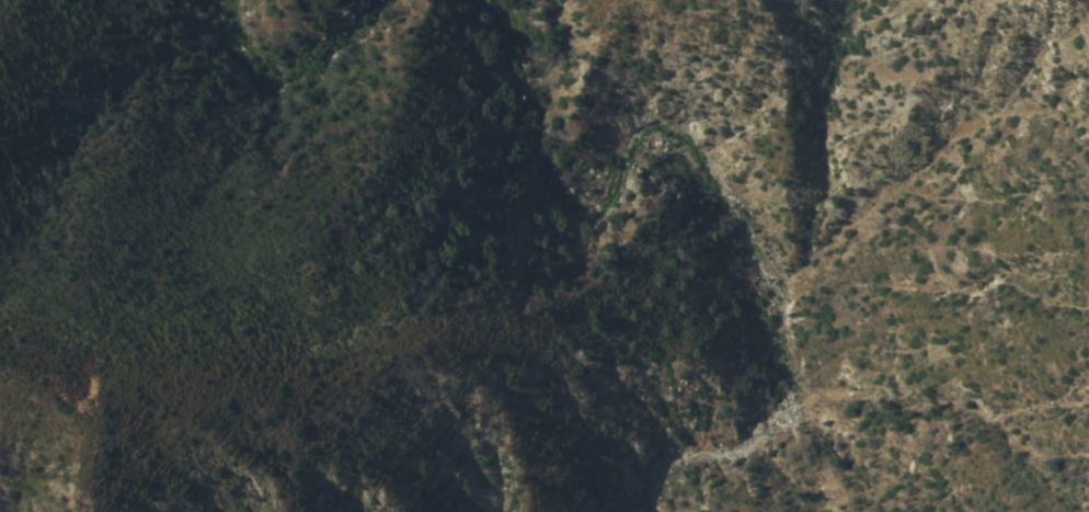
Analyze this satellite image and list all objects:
quarry: (945, 274)

